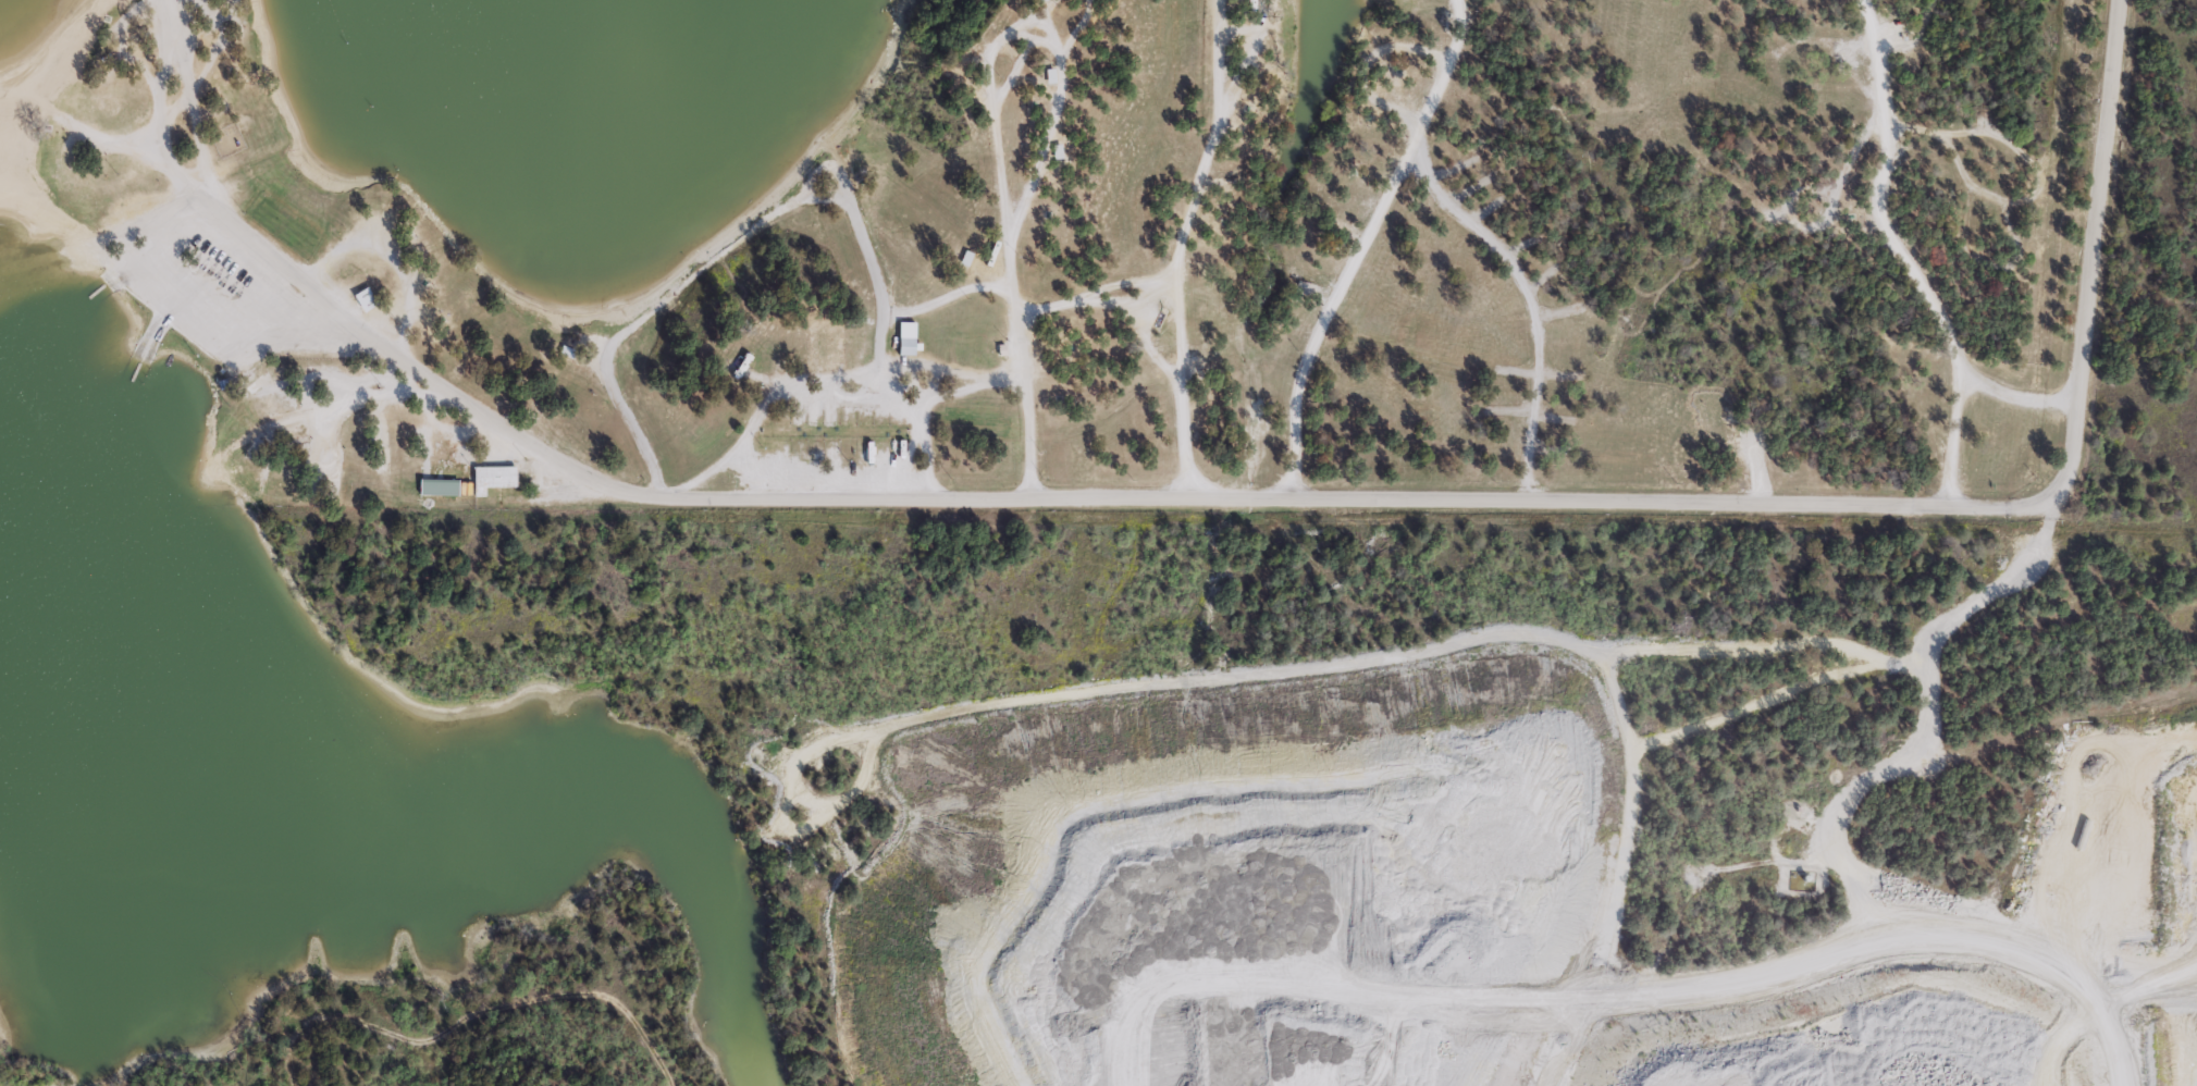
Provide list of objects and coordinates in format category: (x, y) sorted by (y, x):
road: (1923, 24)
building: (1049, 74)
road: (1057, 97)
road: (119, 160)
road: (751, 227)
road: (1362, 243)
road: (1181, 250)
road: (1903, 255)
road: (1005, 272)
park: (1165, 275)
building: (363, 297)
road: (1529, 299)
building: (906, 336)
building: (825, 346)
road: (1183, 384)
road: (2023, 385)
road: (900, 405)
road: (761, 408)
road: (815, 471)
building: (492, 476)
road: (751, 484)
road: (1227, 492)
road: (515, 501)
road: (1776, 836)
road: (2019, 923)
road: (1664, 949)
road: (460, 1009)
road: (456, 1022)
road: (410, 1039)

